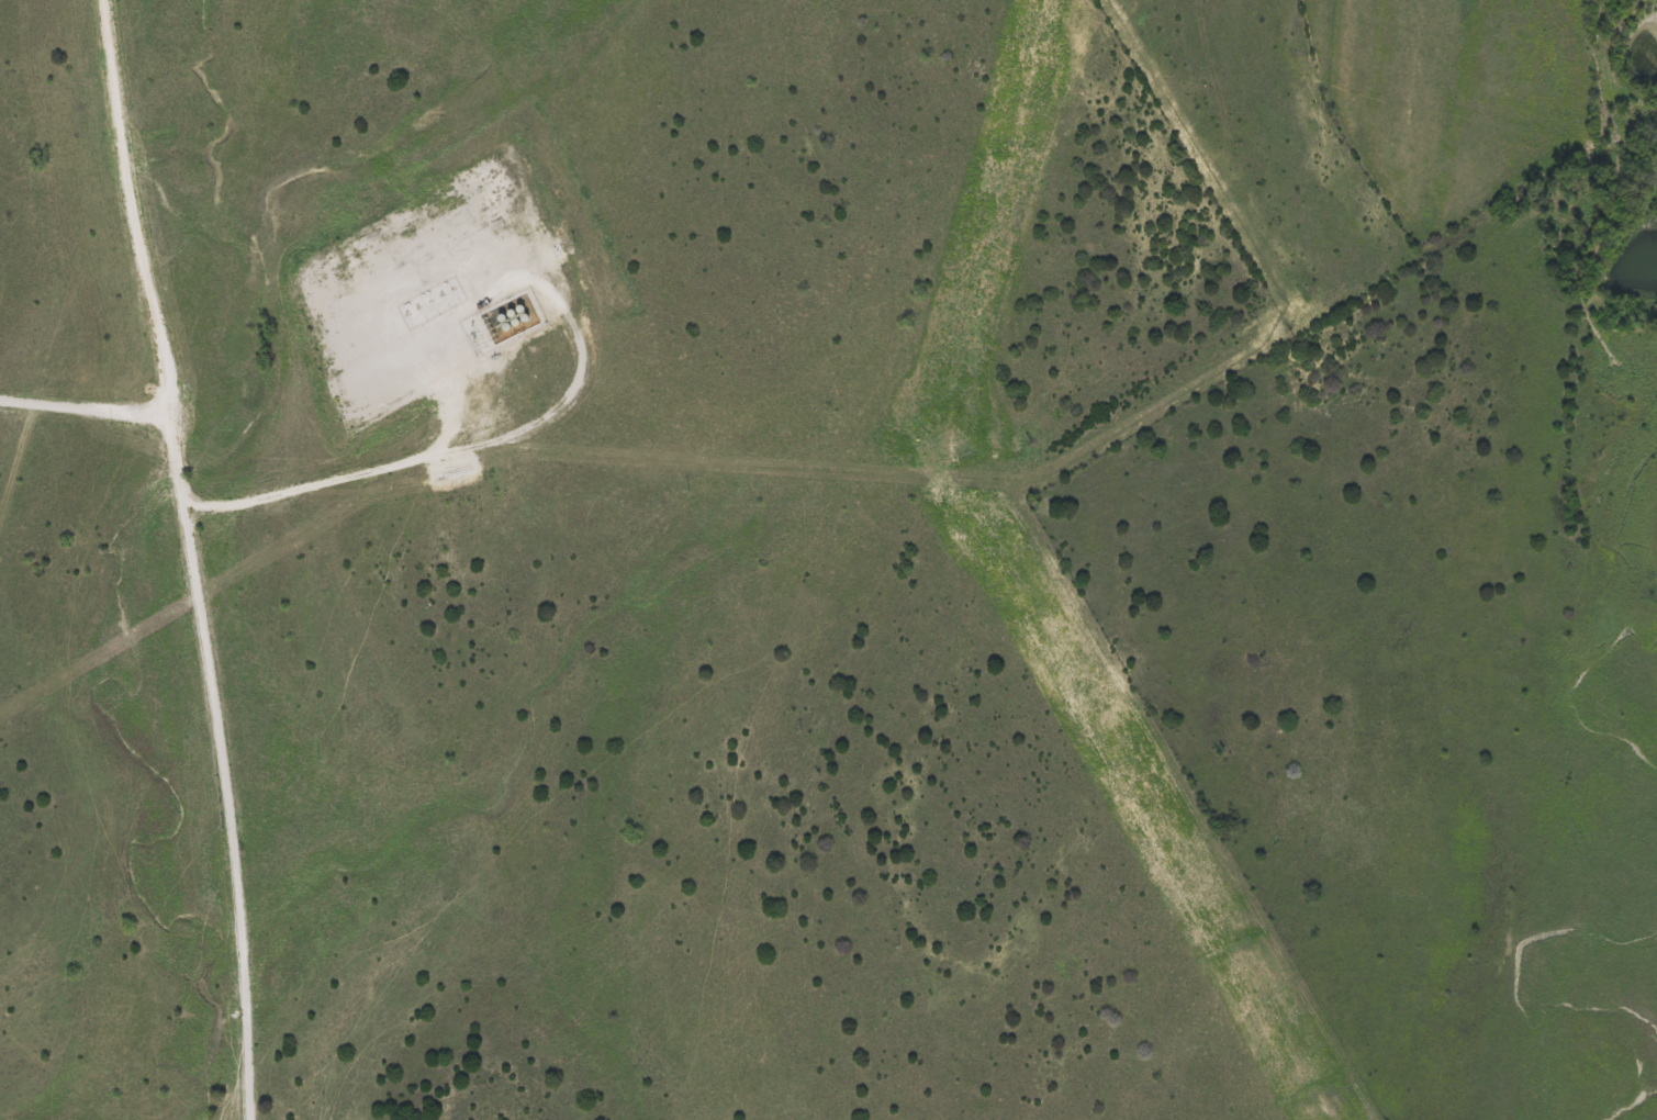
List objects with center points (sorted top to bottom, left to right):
road: (132, 209)
road: (82, 412)
road: (404, 463)
road: (219, 766)

